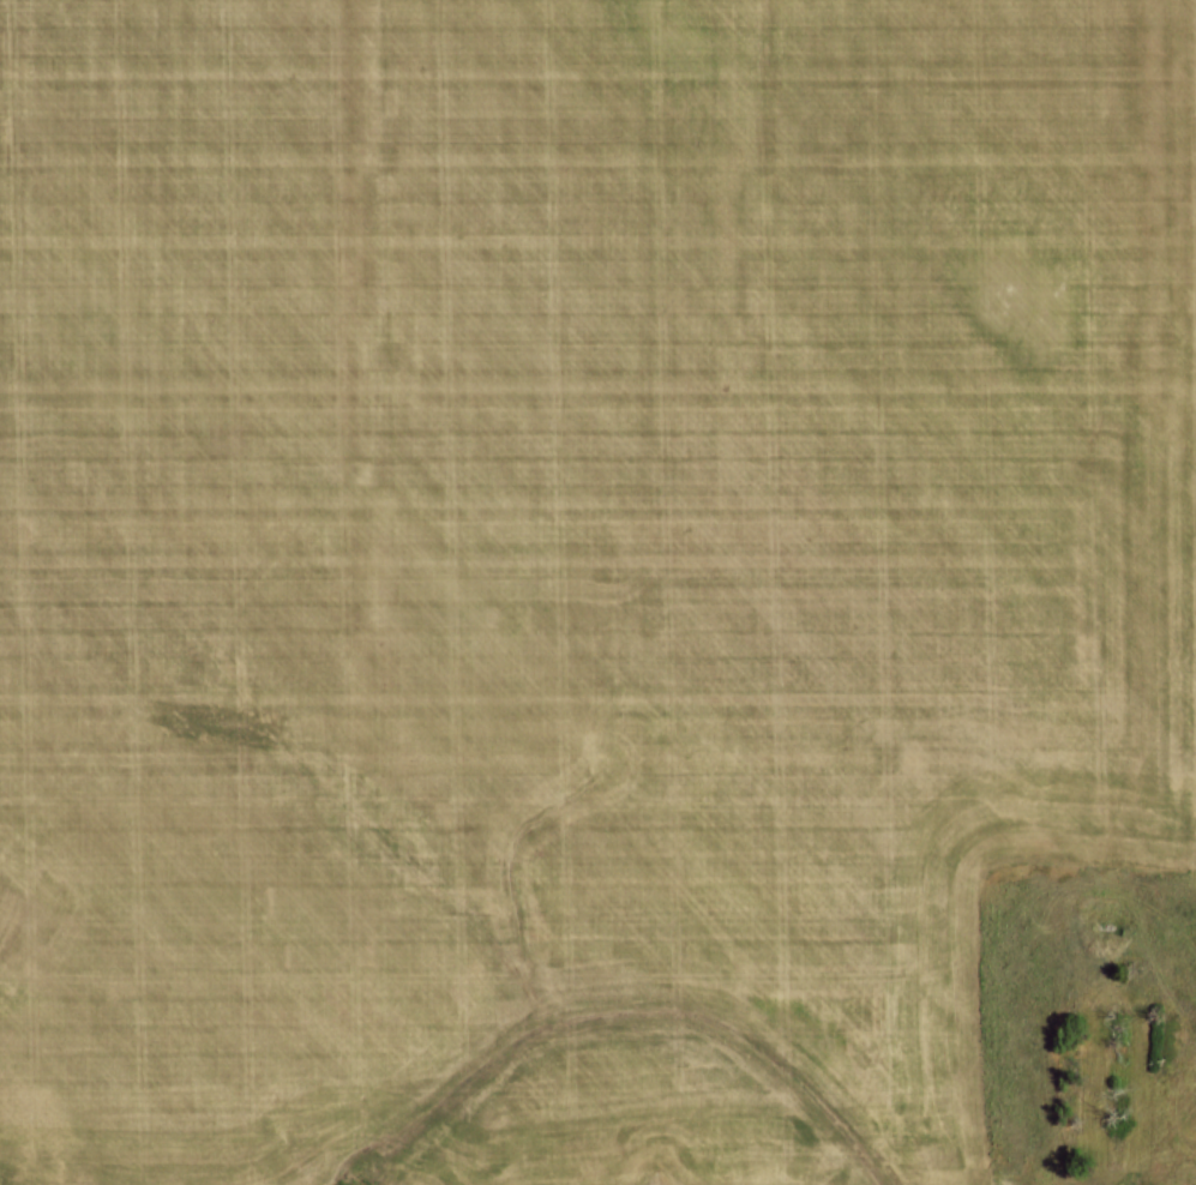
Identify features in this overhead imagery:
crop: (583, 579)

